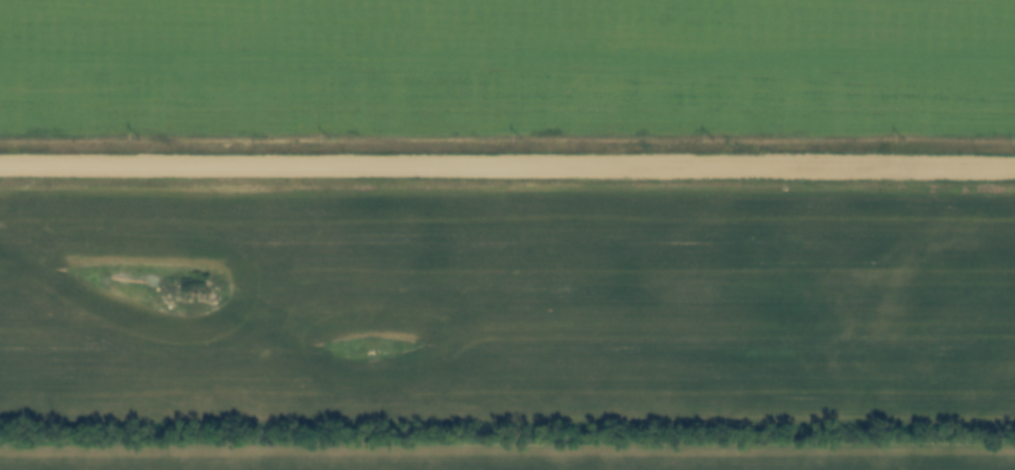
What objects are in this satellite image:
road: (507, 174)

